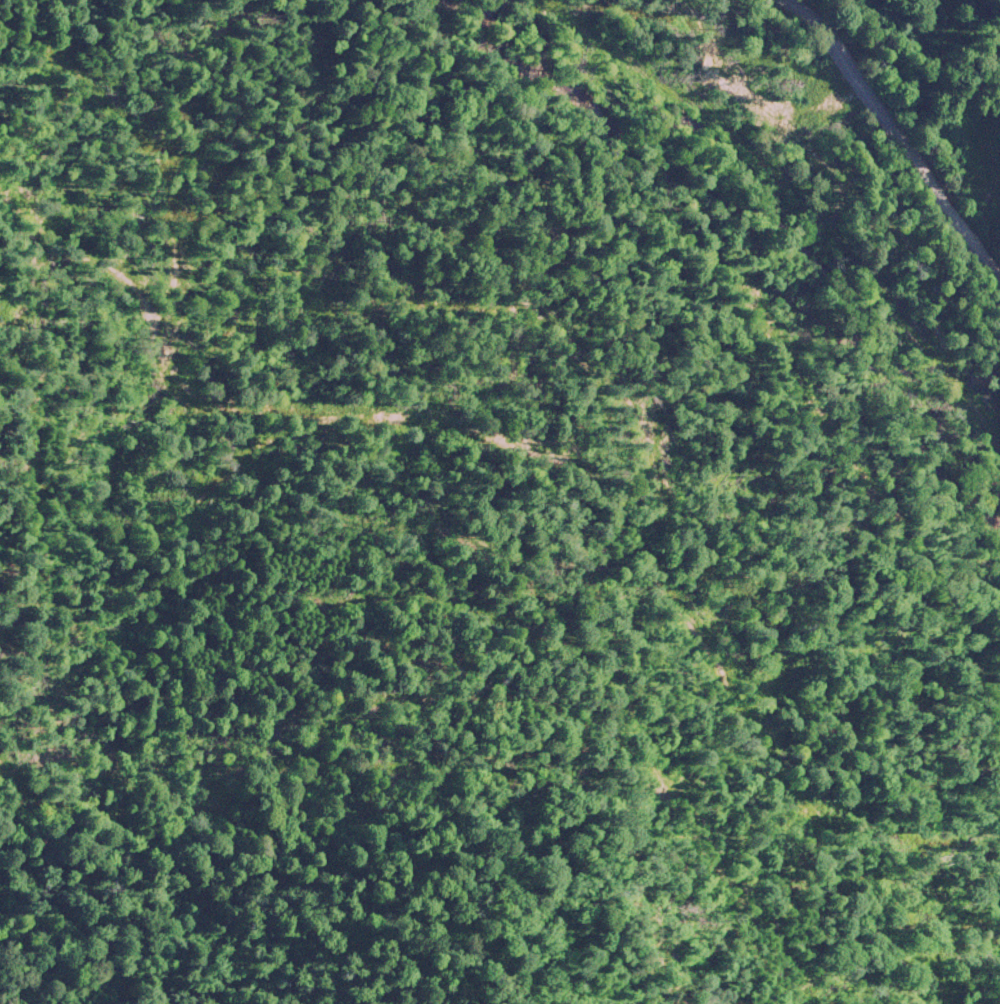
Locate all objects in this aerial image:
road: (901, 136)
railway: (790, 207)

